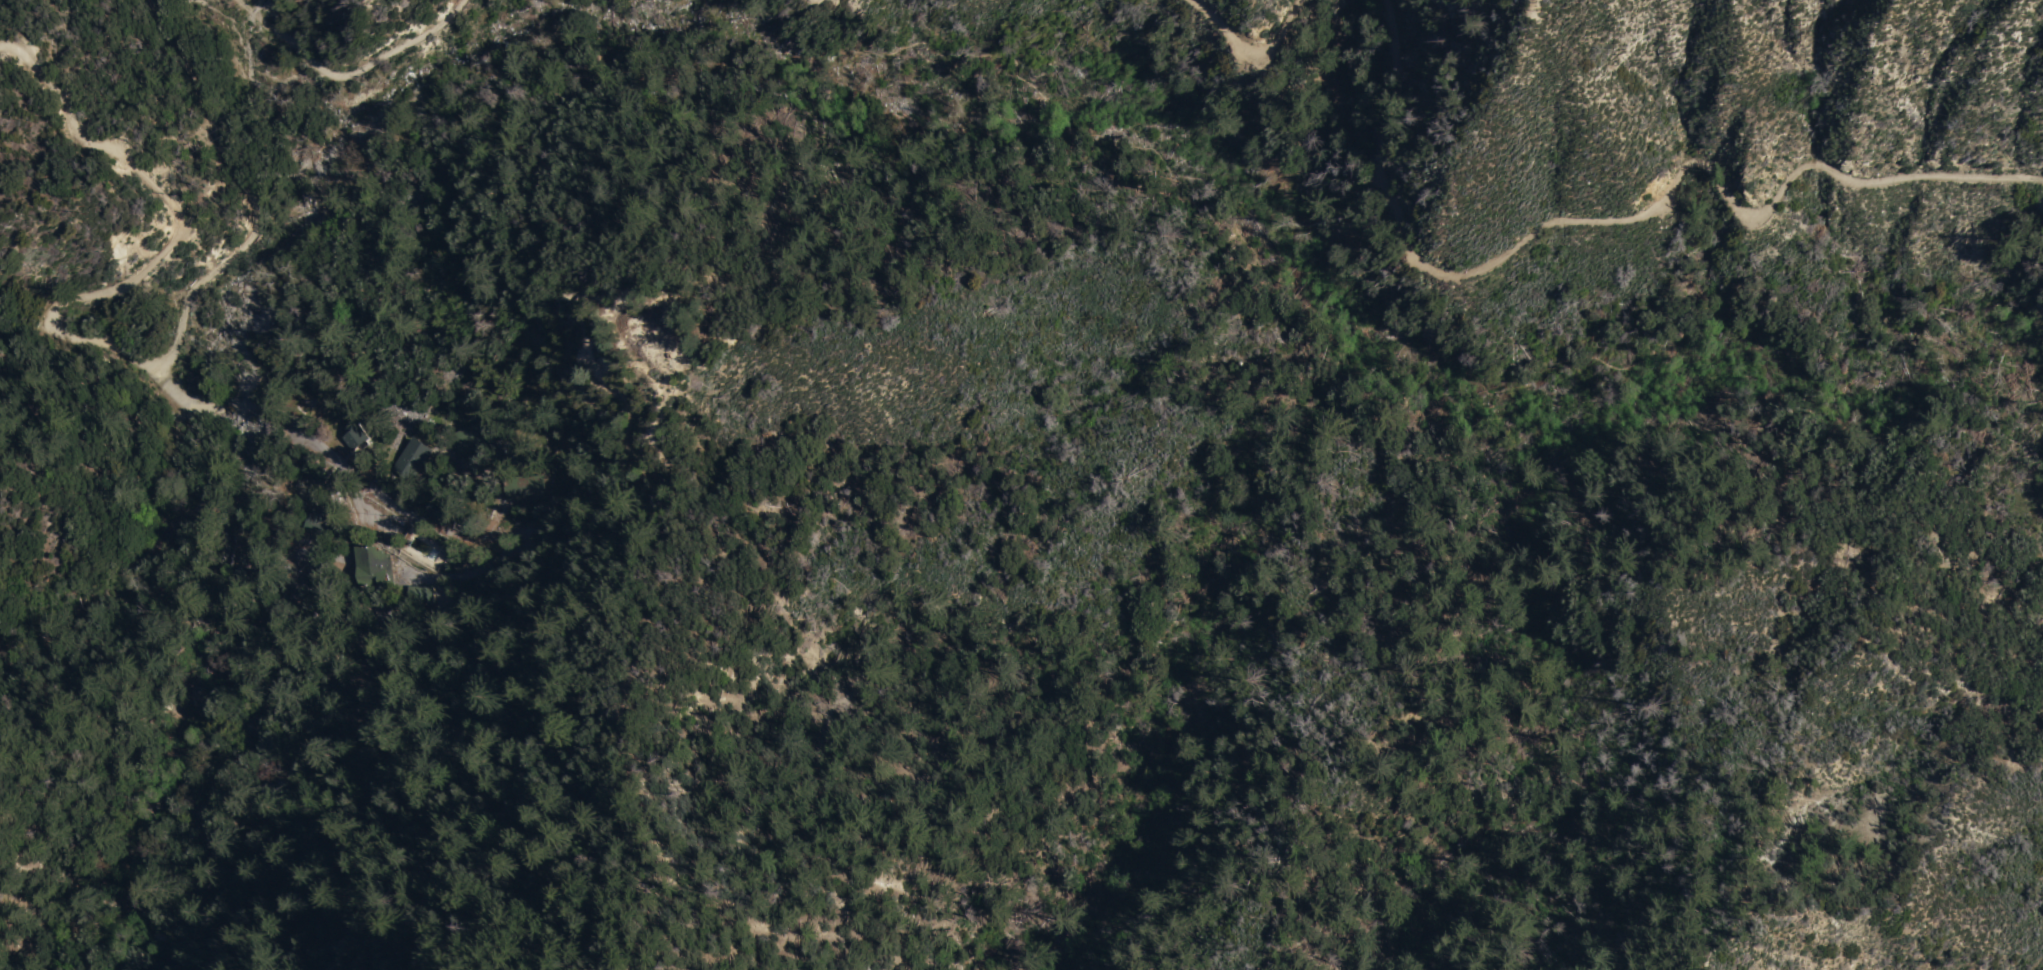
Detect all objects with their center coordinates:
road: (819, 0)
road: (1254, 52)
road: (350, 75)
road: (1038, 98)
road: (236, 166)
road: (1613, 229)
road: (167, 253)
building: (351, 437)
building: (471, 437)
road: (316, 449)
building: (413, 457)
building: (314, 472)
building: (524, 487)
building: (318, 514)
building: (441, 517)
building: (372, 564)
building: (418, 592)

